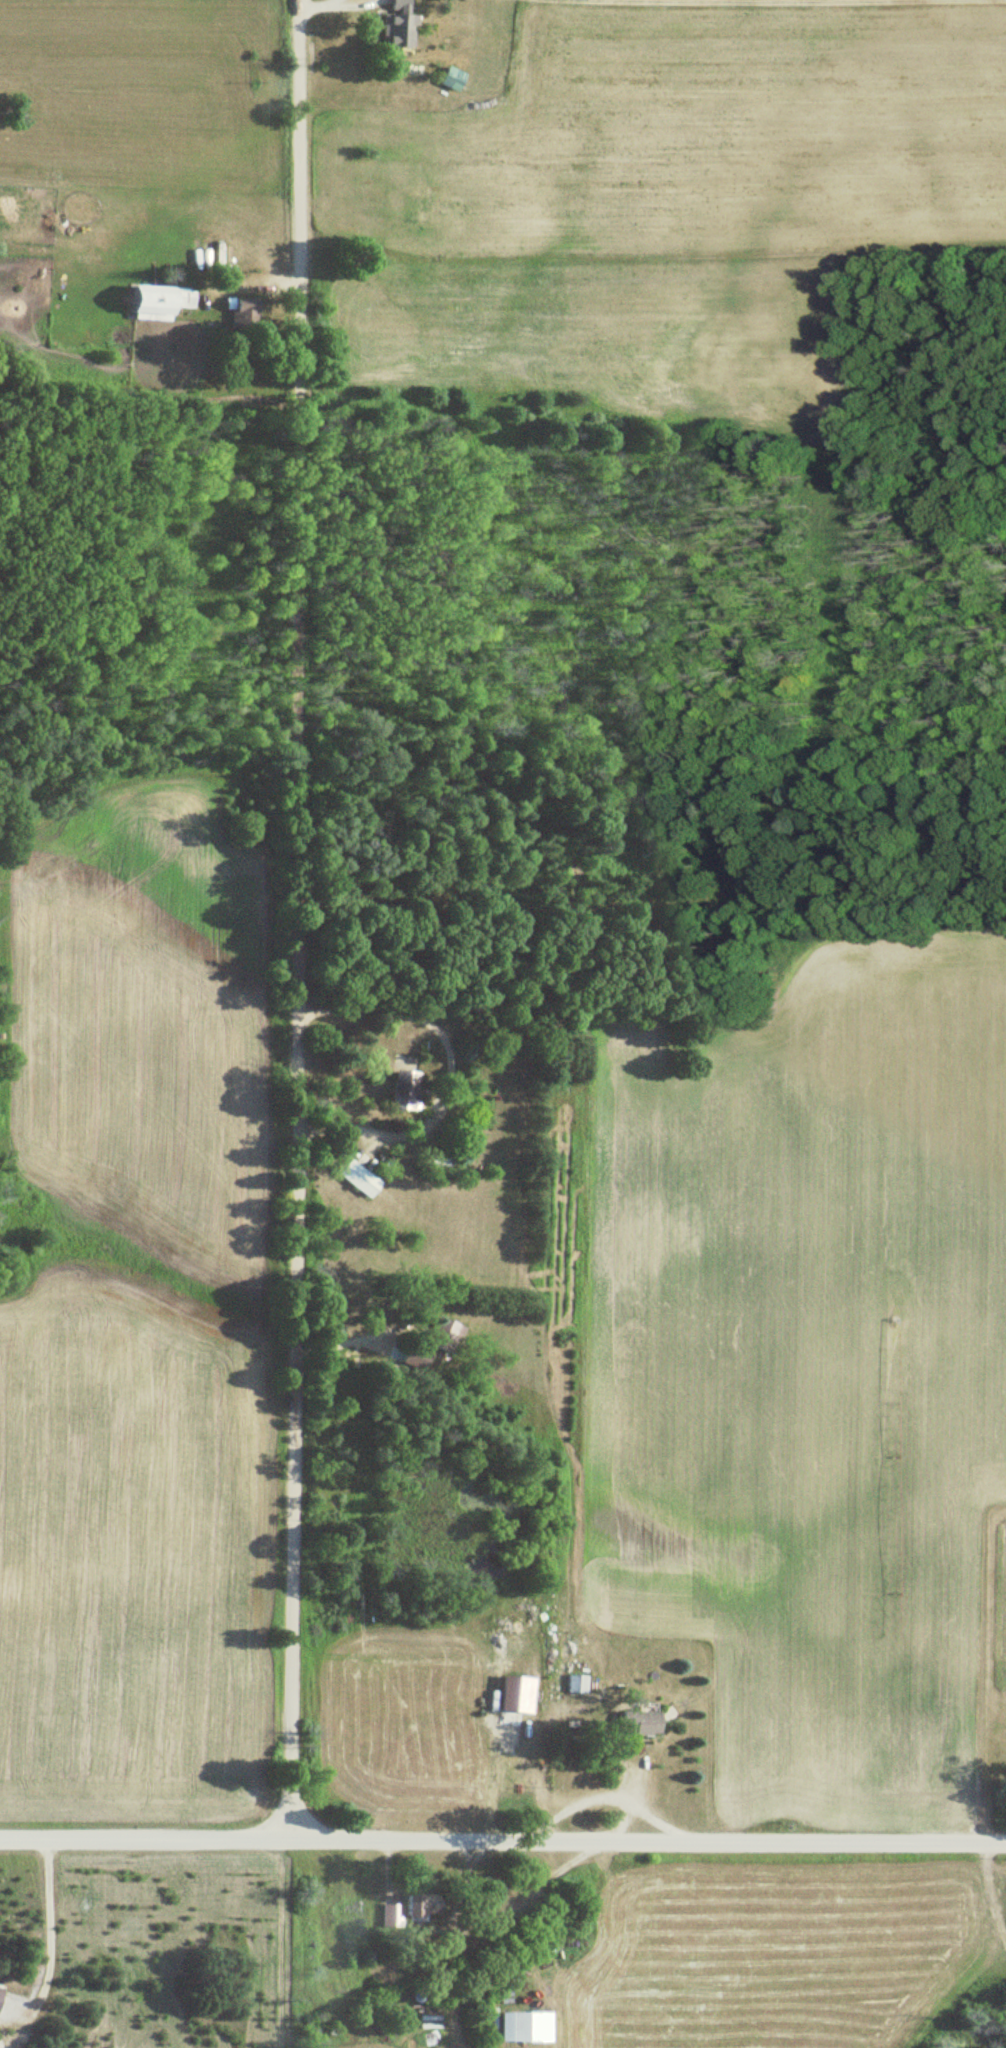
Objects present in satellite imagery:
building: (394, 26)
building: (448, 79)
building: (154, 301)
building: (239, 315)
road: (292, 919)
road: (445, 1068)
building: (401, 1090)
building: (355, 1179)
building: (441, 1333)
road: (345, 1339)
building: (573, 1683)
building: (634, 1722)
road: (603, 1795)
road: (503, 1839)
building: (415, 1907)
building: (521, 2027)

